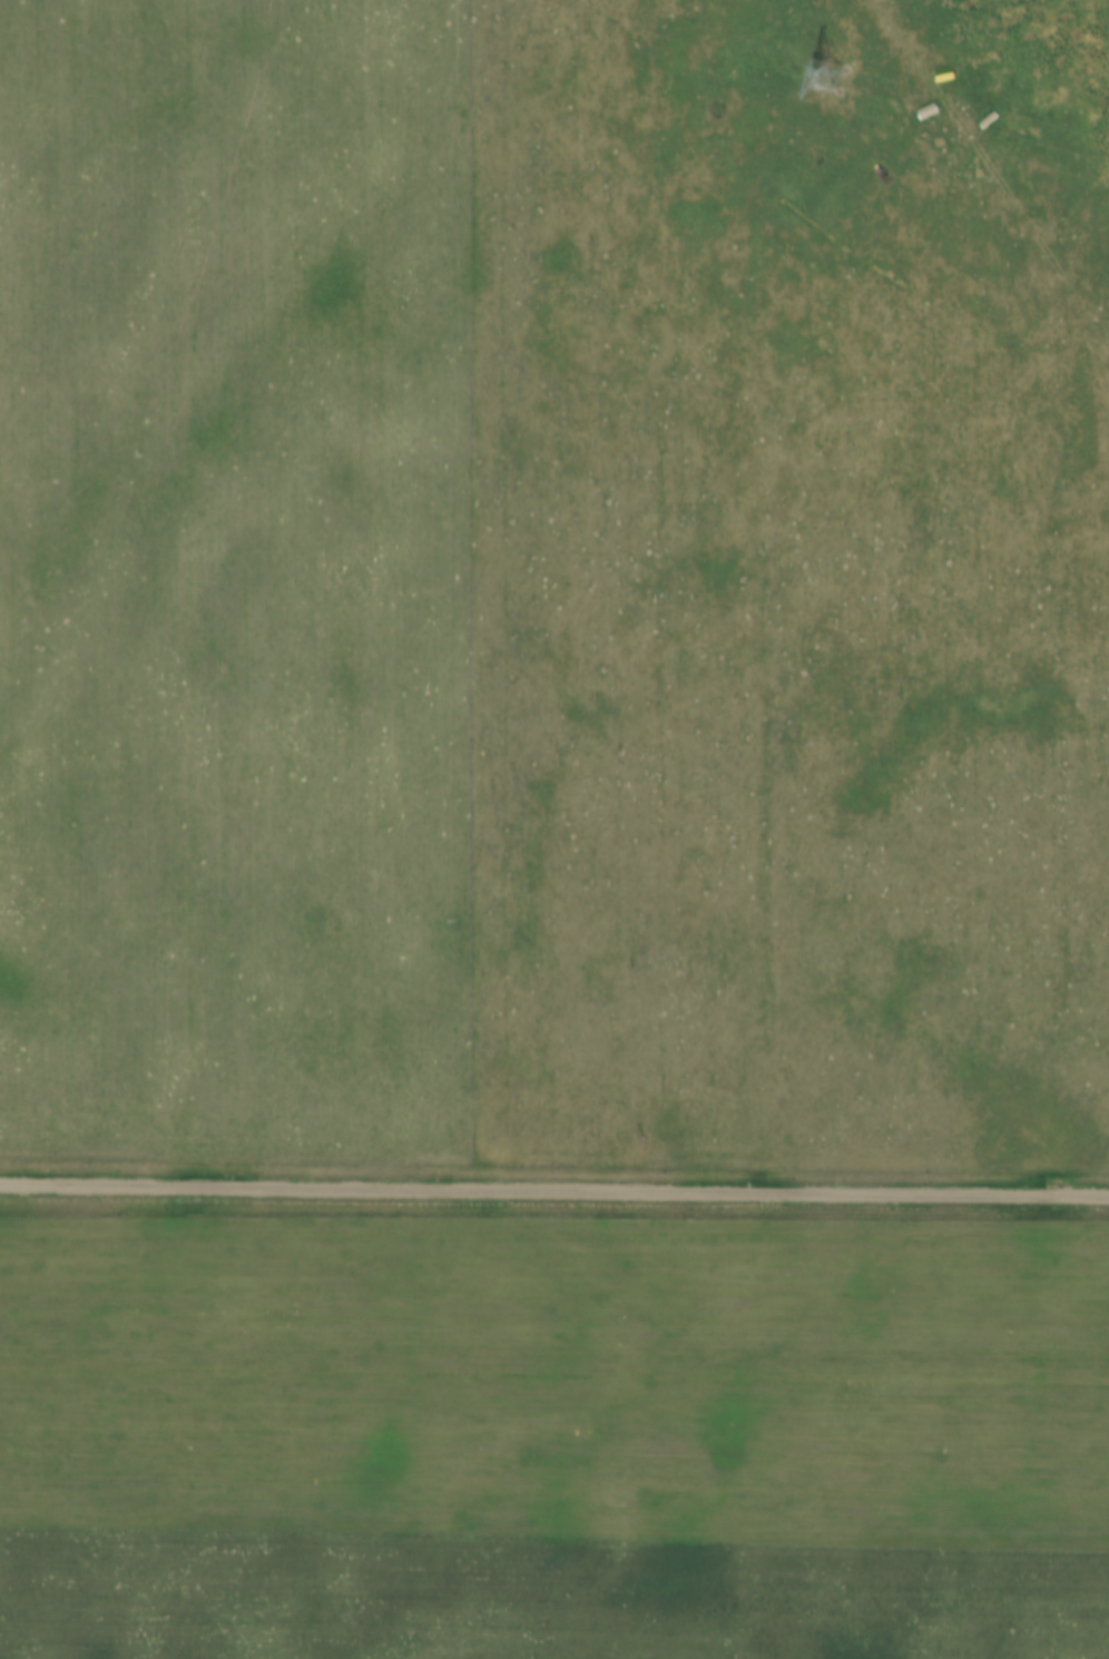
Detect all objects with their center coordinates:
power tower: (828, 77)
road: (938, 102)
road: (553, 1195)

